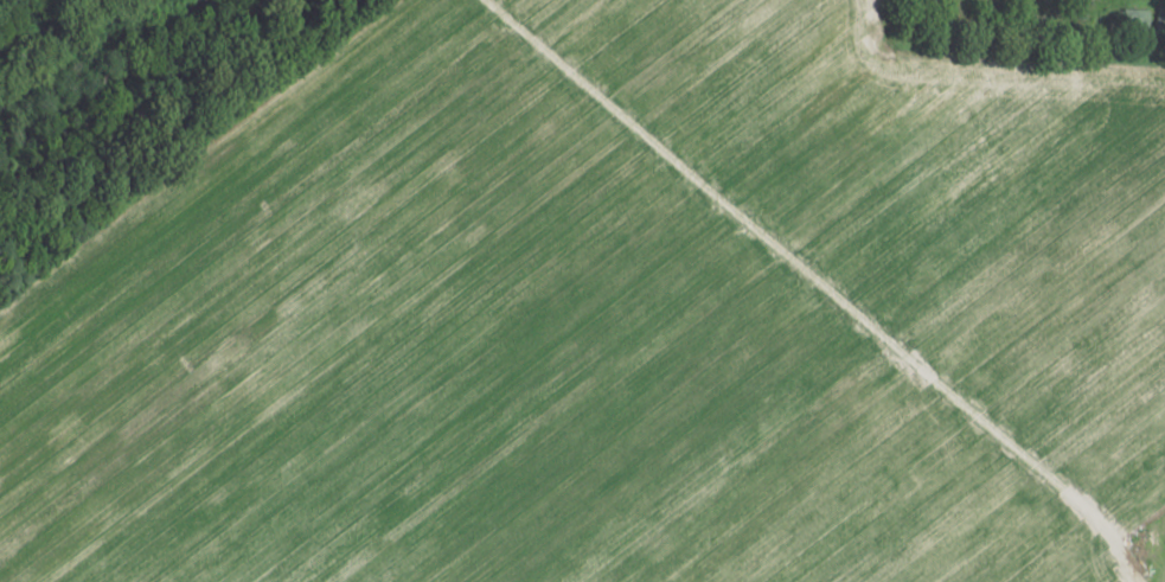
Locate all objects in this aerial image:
building: (1137, 17)

